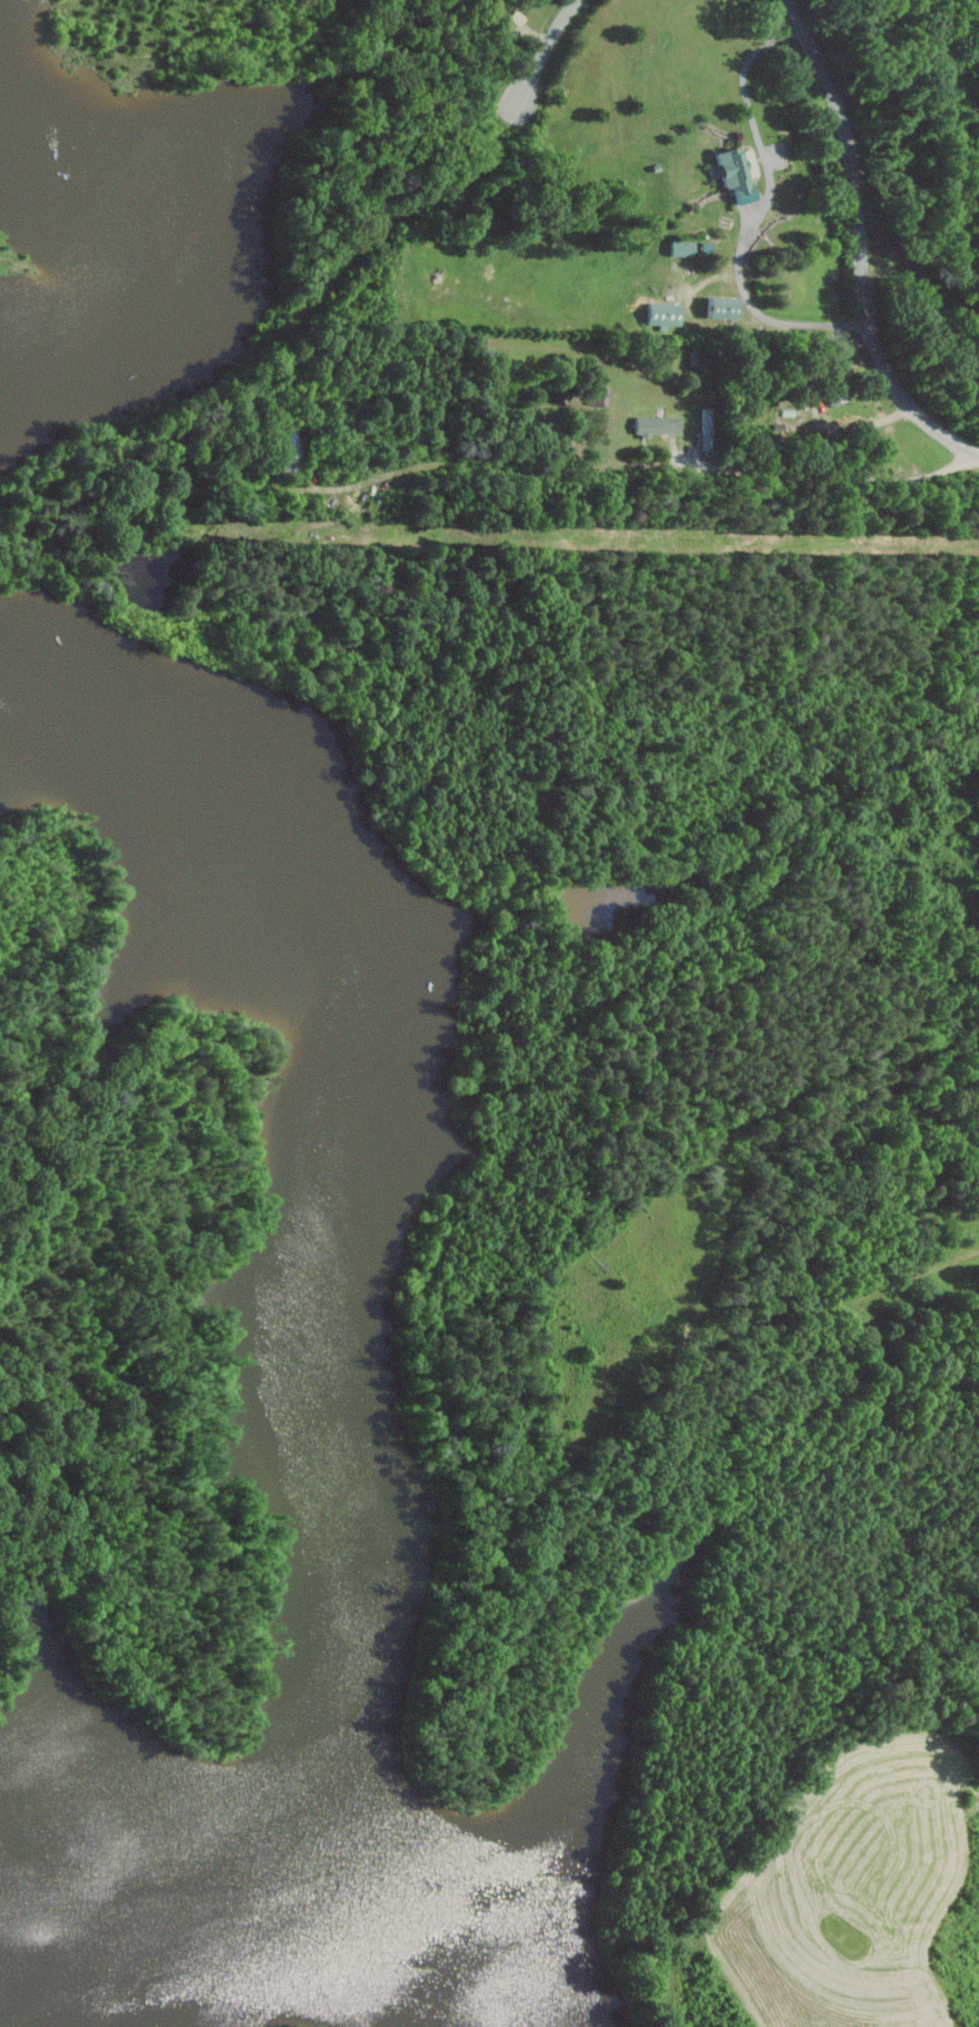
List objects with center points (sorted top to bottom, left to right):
road: (785, 3)
road: (540, 58)
building: (741, 173)
road: (761, 214)
road: (860, 242)
building: (684, 248)
road: (13, 263)
building: (724, 307)
building: (666, 314)
building: (601, 393)
building: (838, 395)
building: (658, 424)
road: (864, 424)
building: (709, 439)
road: (649, 466)
river: (152, 1843)
river: (354, 1989)

